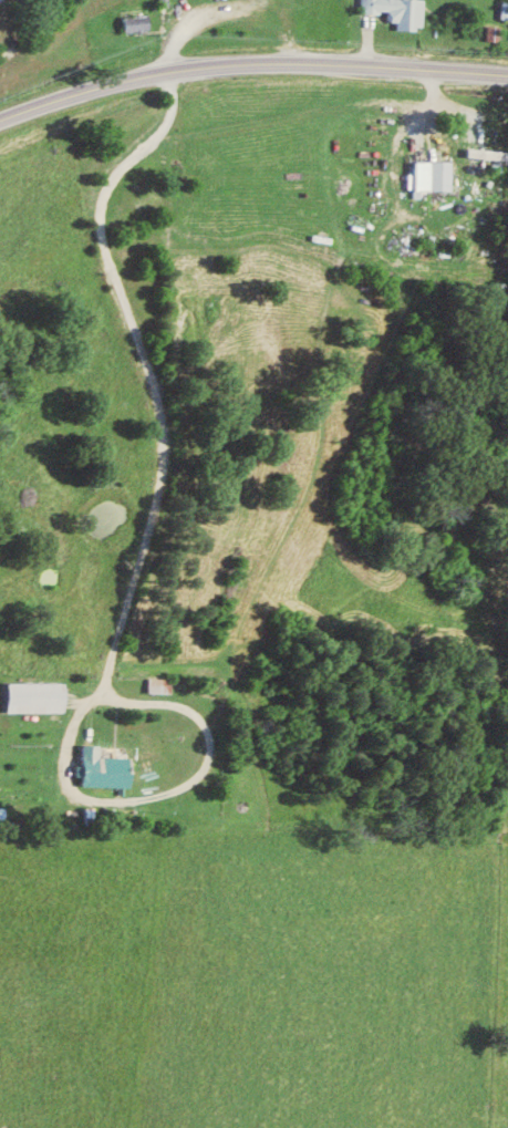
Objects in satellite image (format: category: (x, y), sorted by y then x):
building: (506, 10)
building: (403, 11)
building: (141, 22)
road: (250, 63)
building: (437, 175)
road: (108, 267)
building: (166, 685)
building: (40, 697)
building: (111, 769)
road: (127, 796)

